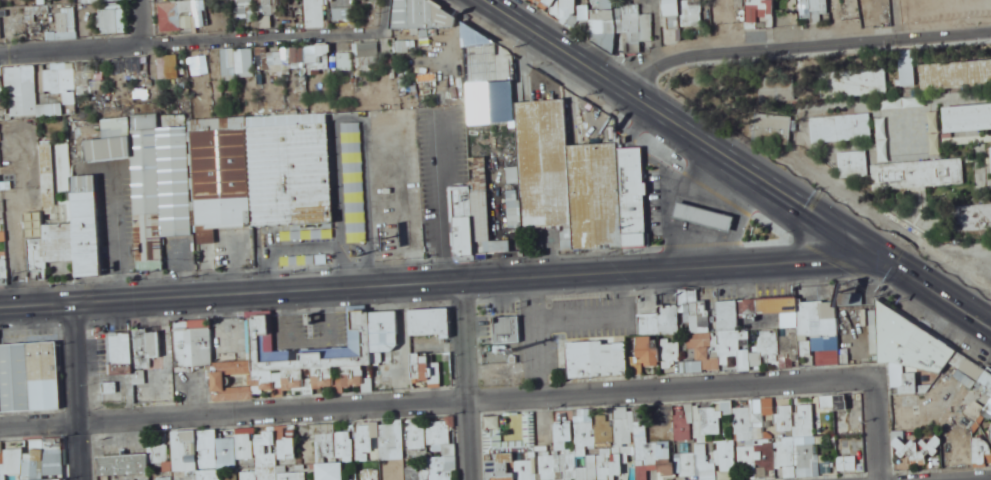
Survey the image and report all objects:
road: (575, 73)
road: (744, 154)
gas station: (702, 212)

